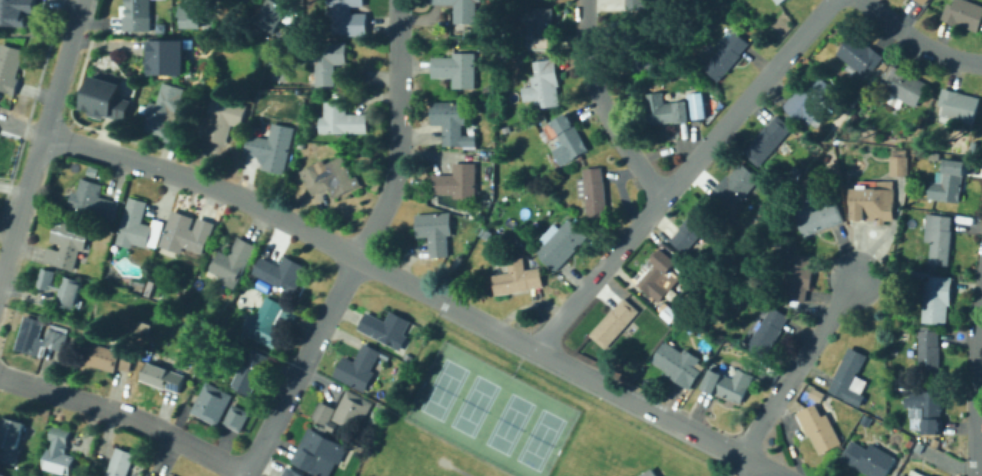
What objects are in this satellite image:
building: (779, 1)
building: (923, 1)
building: (635, 4)
building: (464, 10)
building: (17, 11)
building: (346, 13)
building: (195, 14)
building: (964, 14)
building: (137, 15)
building: (275, 15)
road: (81, 17)
building: (538, 27)
road: (38, 34)
road: (916, 39)
building: (728, 53)
building: (859, 55)
building: (168, 57)
building: (327, 59)
building: (644, 59)
building: (503, 66)
building: (884, 67)
building: (11, 68)
building: (458, 70)
building: (311, 77)
road: (61, 84)
building: (544, 85)
building: (905, 87)
building: (490, 91)
building: (106, 98)
building: (809, 98)
building: (712, 104)
building: (959, 104)
road: (602, 105)
building: (666, 109)
building: (166, 113)
building: (219, 119)
building: (344, 119)
building: (952, 122)
building: (454, 124)
building: (566, 138)
building: (768, 139)
road: (100, 149)
building: (270, 150)
building: (899, 166)
road: (681, 172)
building: (331, 177)
building: (948, 181)
building: (458, 183)
building: (734, 187)
building: (593, 191)
building: (93, 200)
road: (257, 204)
building: (873, 204)
road: (23, 212)
building: (816, 217)
building: (138, 225)
building: (464, 225)
building: (694, 227)
building: (435, 231)
building: (186, 233)
building: (486, 234)
building: (790, 234)
building: (517, 242)
building: (937, 242)
building: (560, 243)
building: (66, 244)
road: (359, 248)
building: (234, 264)
building: (660, 271)
building: (283, 274)
building: (518, 277)
building: (797, 277)
road: (397, 278)
building: (149, 287)
building: (61, 288)
building: (936, 298)
building: (187, 307)
building: (671, 313)
building: (614, 322)
building: (272, 323)
building: (389, 330)
building: (768, 331)
building: (627, 332)
building: (56, 335)
building: (718, 341)
building: (929, 354)
building: (109, 357)
road: (517, 359)
building: (679, 364)
road: (799, 364)
building: (360, 369)
building: (254, 371)
building: (850, 377)
building: (164, 378)
building: (729, 384)
road: (609, 387)
park: (441, 388)
road: (974, 388)
building: (213, 404)
park: (472, 405)
building: (926, 410)
road: (125, 413)
building: (238, 418)
park: (507, 423)
building: (819, 428)
building: (333, 434)
park: (538, 439)
building: (13, 440)
building: (59, 454)
building: (868, 459)
building: (122, 462)
park: (449, 464)
road: (750, 469)
park: (413, 470)
building: (294, 472)
building: (646, 473)
building: (3, 474)
building: (156, 474)
building: (917, 474)
building: (627, 475)
building: (901, 475)
building: (929, 475)

